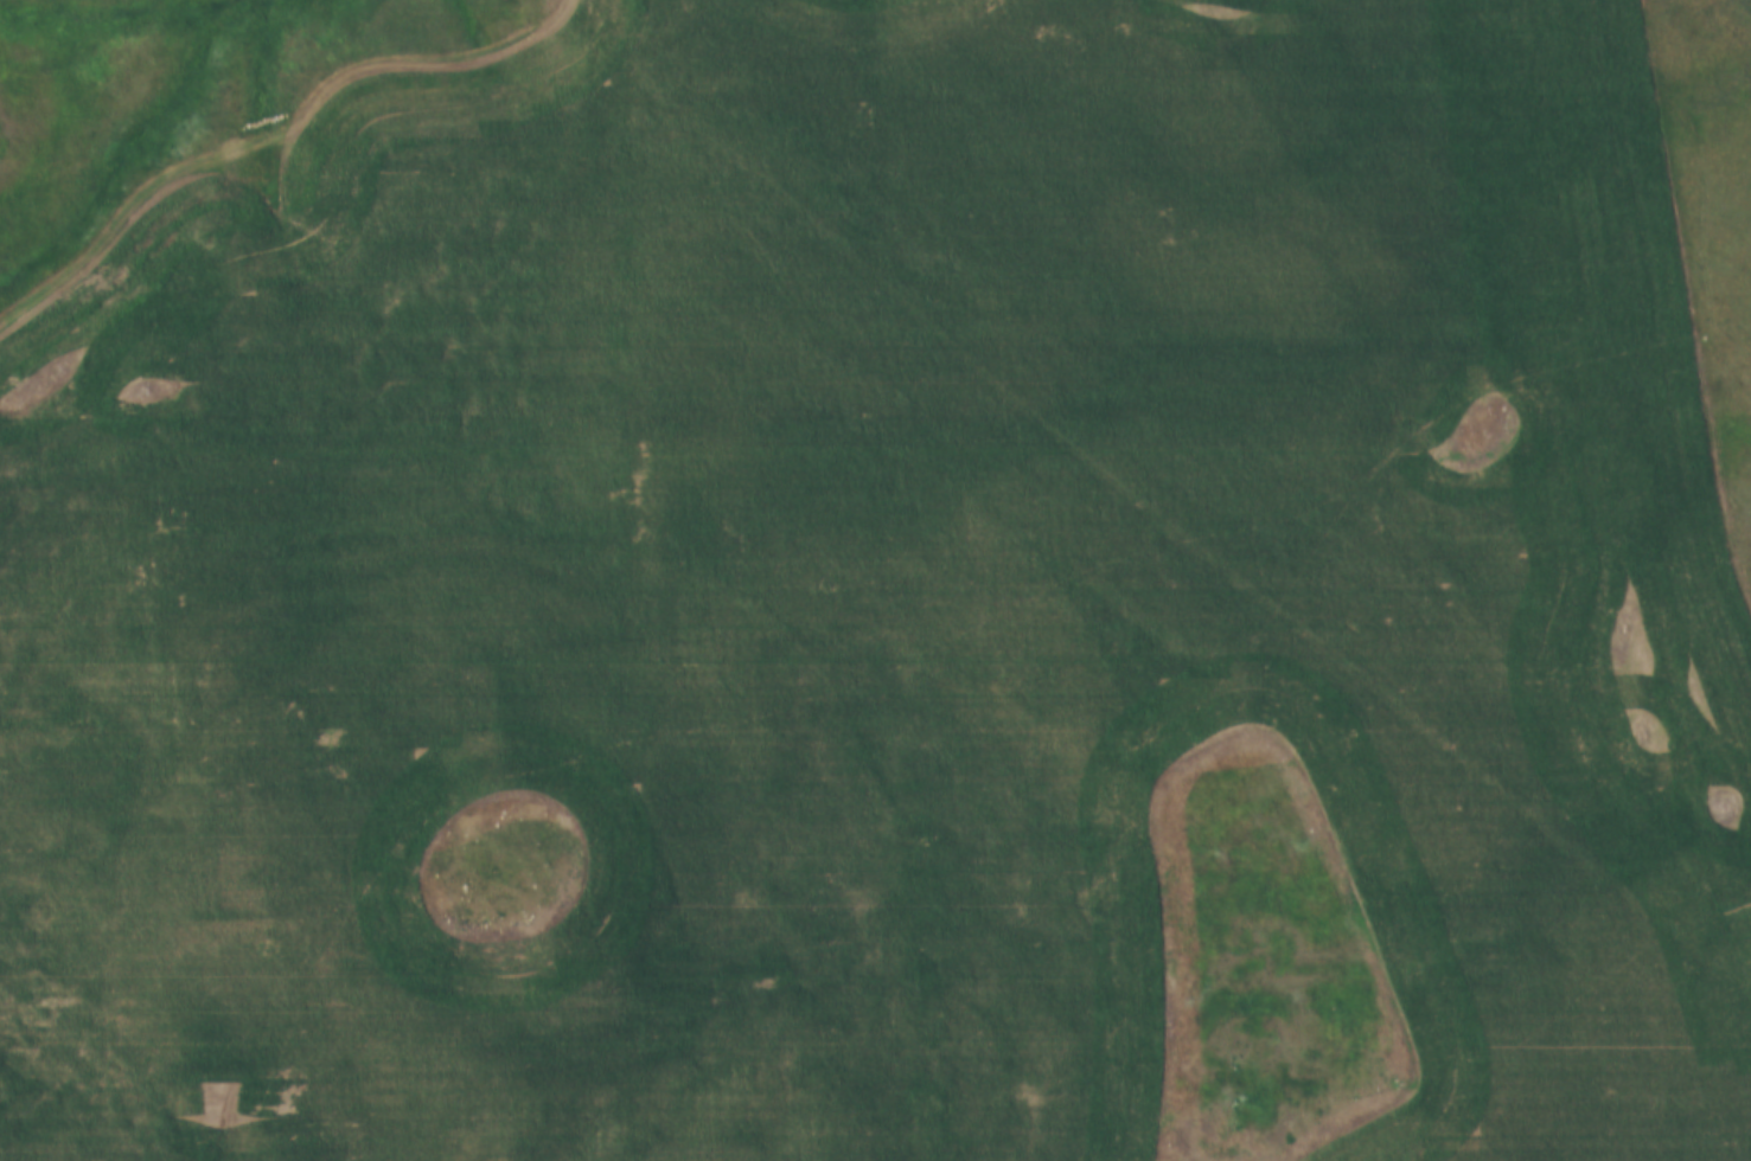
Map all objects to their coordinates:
road: (273, 546)

